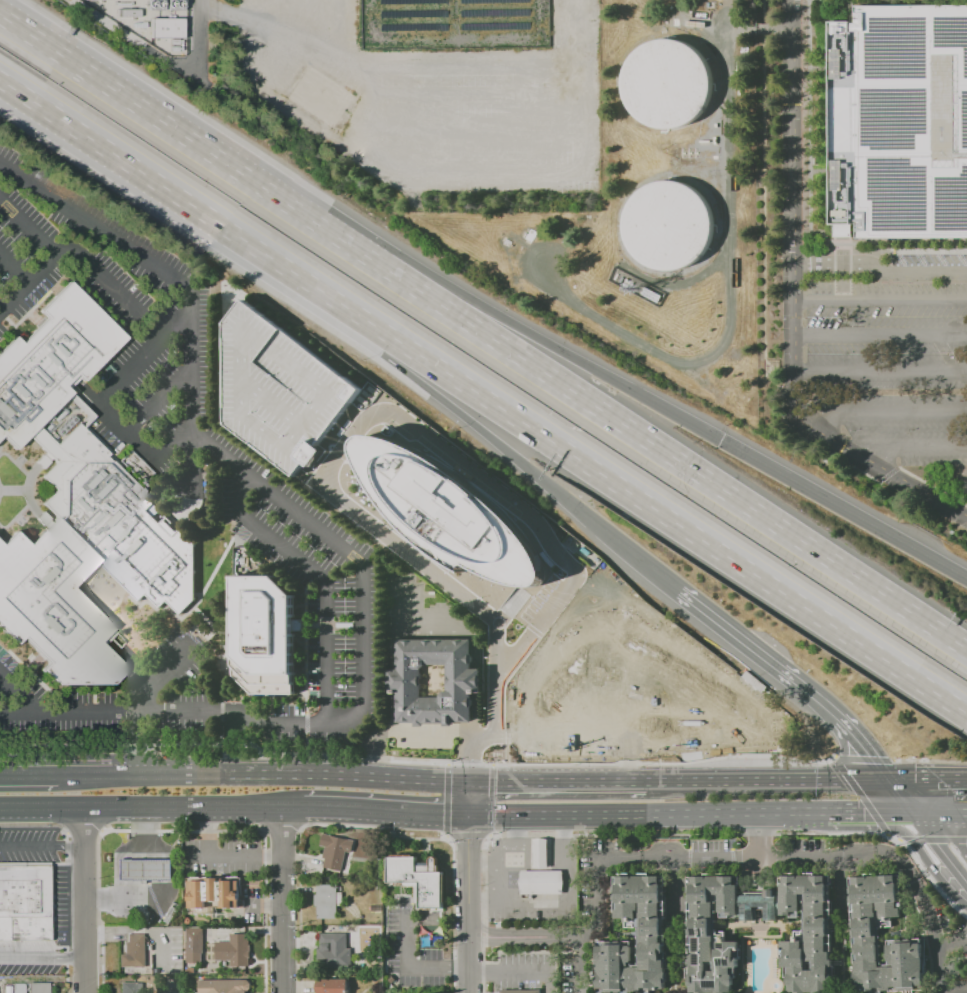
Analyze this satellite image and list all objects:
building: (494, 1)
building: (414, 2)
road: (762, 11)
building: (497, 13)
road: (726, 13)
building: (414, 14)
building: (165, 21)
building: (496, 26)
building: (414, 27)
road: (731, 27)
road: (197, 28)
road: (763, 28)
building: (667, 83)
storage tank: (667, 83)
building: (319, 96)
building: (900, 122)
building: (716, 125)
road: (510, 132)
building: (704, 140)
building: (715, 140)
road: (213, 154)
building: (715, 157)
road: (704, 170)
road: (181, 199)
building: (668, 225)
road: (27, 226)
building: (531, 234)
building: (508, 242)
building: (564, 242)
building: (158, 252)
road: (880, 267)
road: (13, 268)
building: (192, 271)
road: (97, 272)
building: (617, 276)
road: (174, 277)
building: (622, 279)
road: (27, 280)
road: (691, 280)
building: (630, 283)
road: (766, 287)
building: (651, 294)
building: (689, 301)
road: (880, 302)
building: (675, 304)
road: (794, 307)
road: (730, 312)
road: (880, 333)
road: (146, 356)
road: (575, 359)
road: (880, 370)
building: (280, 389)
parking lot: (280, 389)
road: (160, 400)
road: (883, 411)
road: (470, 420)
road: (126, 433)
traffic signals: (721, 440)
road: (907, 445)
road: (339, 451)
road: (189, 457)
building: (42, 462)
building: (136, 467)
road: (696, 469)
road: (888, 473)
road: (28, 477)
road: (933, 485)
road: (13, 489)
building: (78, 505)
road: (844, 509)
building: (449, 512)
road: (665, 514)
road: (15, 516)
building: (570, 538)
building: (585, 550)
road: (633, 554)
building: (597, 559)
road: (317, 573)
road: (510, 607)
building: (345, 624)
road: (650, 626)
road: (432, 627)
building: (264, 634)
road: (756, 654)
road: (129, 666)
road: (157, 672)
road: (497, 676)
road: (394, 680)
building: (406, 680)
road: (475, 680)
building: (604, 687)
road: (17, 691)
road: (743, 692)
road: (362, 708)
road: (394, 711)
road: (475, 713)
road: (407, 730)
road: (582, 735)
road: (864, 743)
road: (843, 747)
traffic signals: (470, 755)
traffic signals: (874, 756)
road: (862, 758)
road: (929, 759)
road: (548, 764)
road: (169, 774)
road: (28, 775)
road: (83, 775)
road: (349, 776)
road: (859, 778)
road: (927, 778)
traffic signals: (935, 778)
traffic signals: (497, 779)
road: (560, 779)
road: (740, 779)
road: (901, 795)
road: (909, 795)
road: (861, 796)
road: (185, 805)
road: (297, 805)
road: (44, 806)
road: (391, 810)
road: (948, 811)
road: (896, 812)
road: (922, 812)
road: (852, 813)
traffic signals: (870, 813)
traffic signals: (441, 814)
road: (647, 814)
road: (143, 832)
road: (948, 833)
road: (677, 834)
road: (760, 835)
road: (420, 836)
road: (469, 838)
road: (900, 839)
road: (935, 839)
parking lot: (29, 842)
traffic signals: (469, 842)
traffic signals: (958, 843)
road: (44, 845)
road: (940, 846)
building: (335, 850)
building: (540, 853)
gas station: (540, 853)
building: (358, 857)
road: (757, 857)
road: (924, 857)
road: (41, 863)
road: (143, 868)
building: (144, 868)
building: (419, 880)
building: (541, 881)
road: (677, 883)
road: (843, 884)
road: (469, 885)
building: (212, 893)
road: (121, 897)
road: (89, 899)
road: (282, 899)
building: (327, 901)
building: (24, 902)
building: (761, 906)
road: (594, 907)
road: (927, 908)
building: (170, 914)
building: (866, 932)
building: (651, 933)
building: (712, 933)
building: (809, 933)
road: (512, 936)
road: (568, 937)
road: (951, 941)
building: (194, 943)
building: (234, 949)
building: (133, 951)
building: (333, 951)
road: (45, 958)
road: (411, 966)
building: (953, 967)
road: (520, 972)
building: (391, 978)
building: (331, 985)
building: (224, 986)
building: (14, 987)
building: (131, 987)
building: (38, 988)
building: (521, 990)

